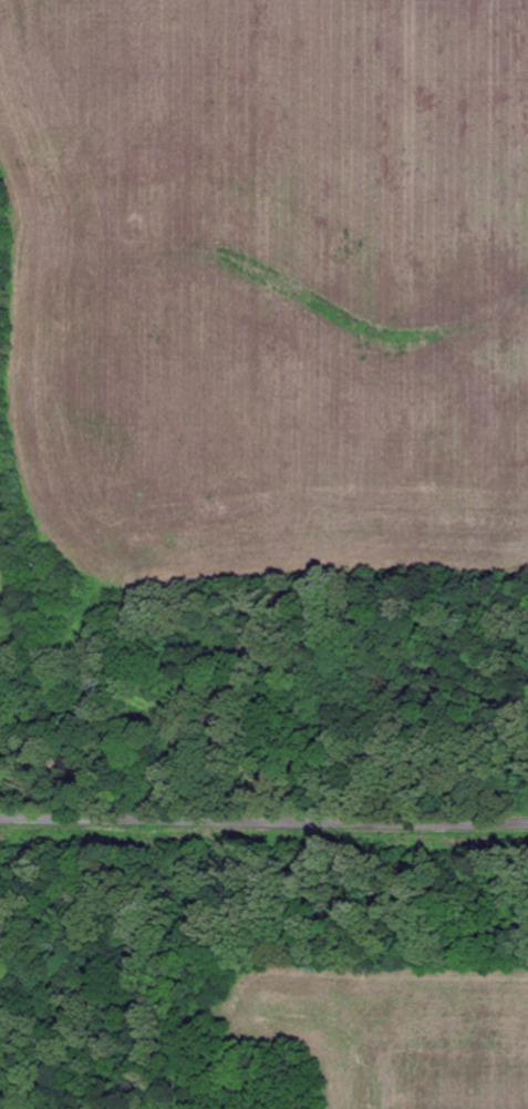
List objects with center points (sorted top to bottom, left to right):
road: (263, 809)

